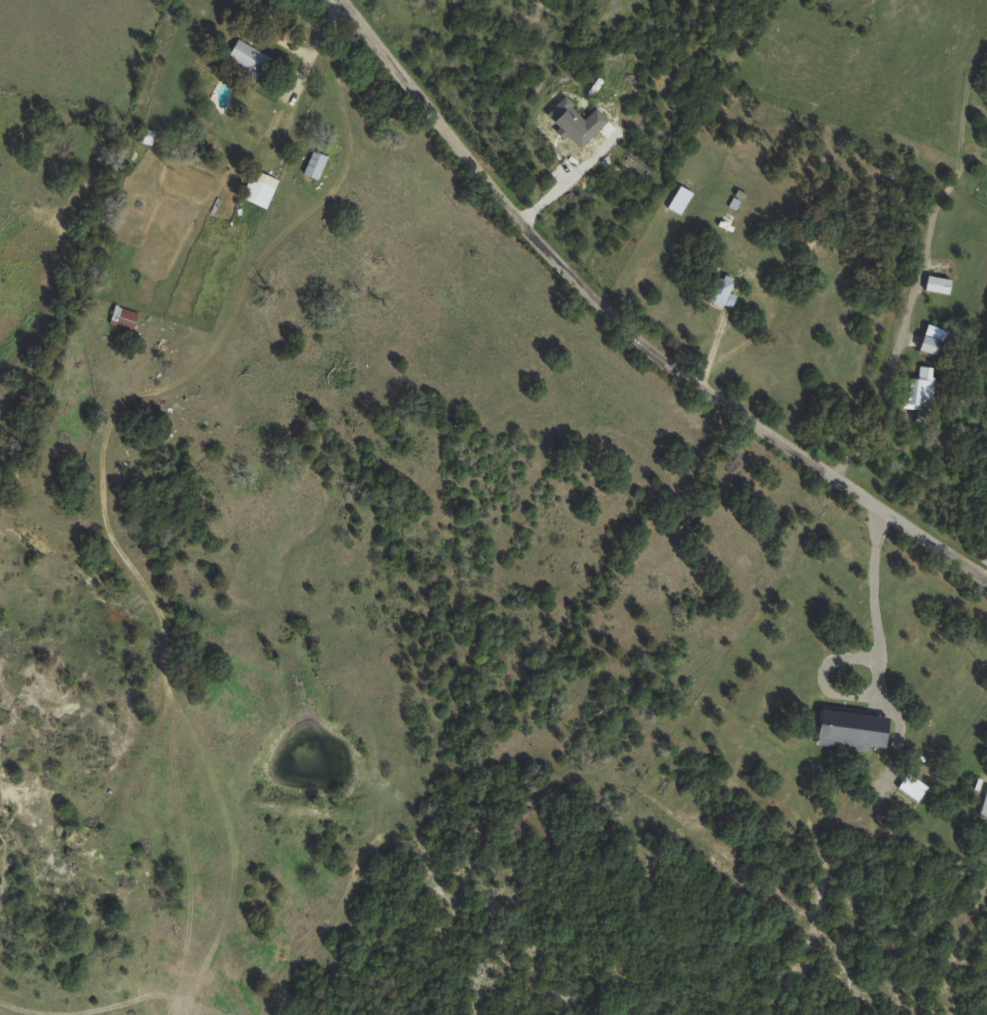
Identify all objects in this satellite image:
road: (308, 49)
building: (249, 57)
building: (577, 122)
building: (314, 164)
building: (261, 189)
building: (679, 200)
building: (939, 285)
building: (725, 293)
building: (126, 319)
road: (628, 326)
building: (932, 339)
road: (887, 370)
building: (919, 387)
road: (871, 600)
building: (855, 730)
building: (912, 787)
building: (984, 805)

